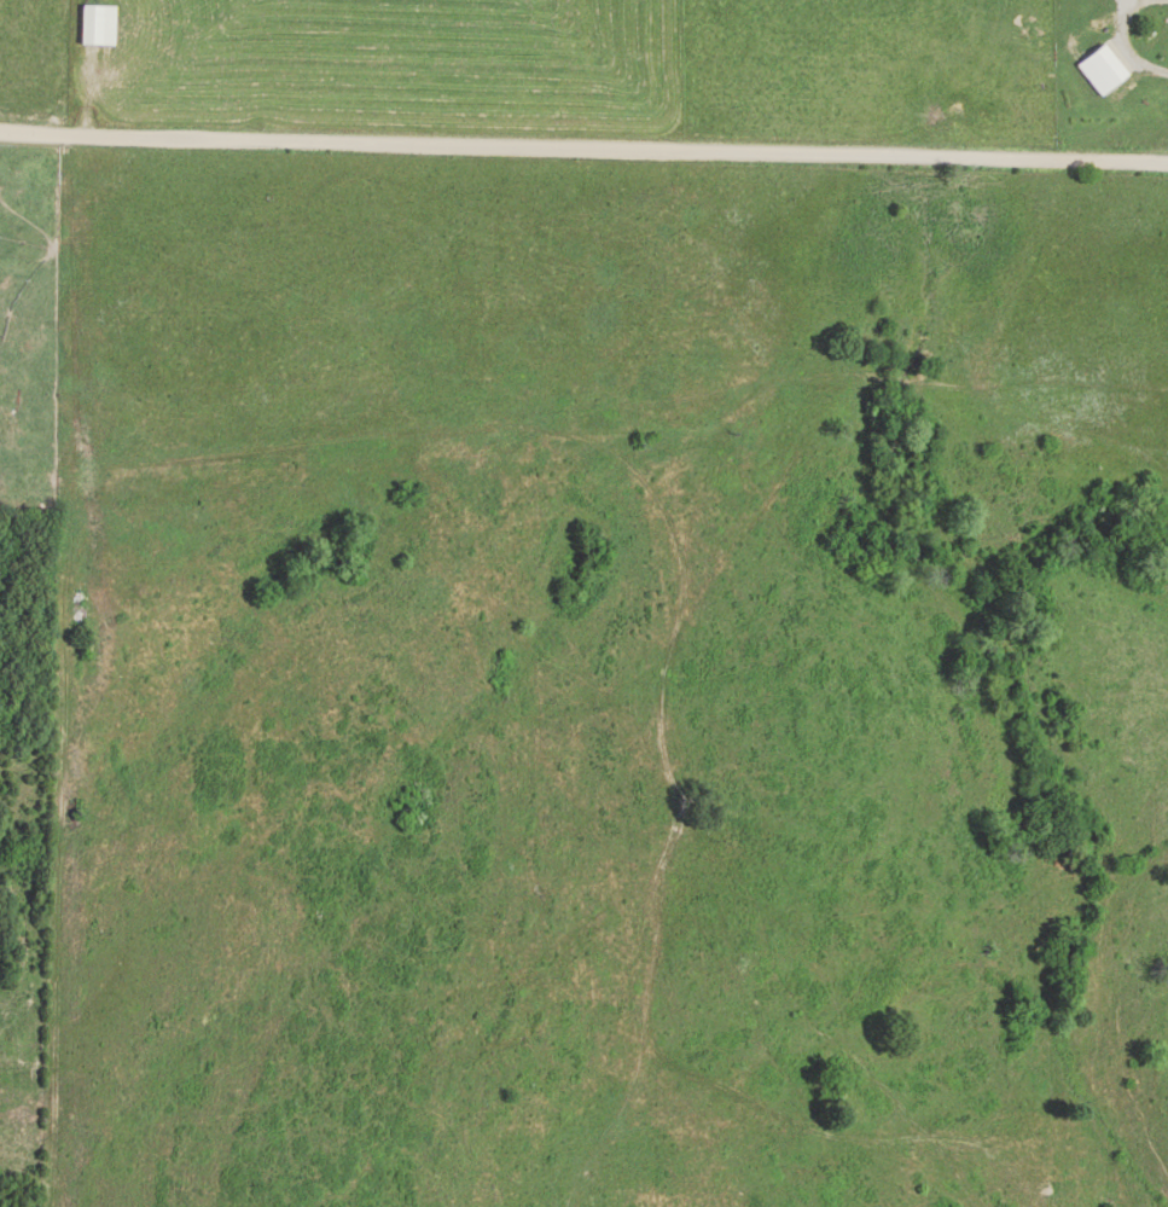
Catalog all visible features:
building: (99, 25)
road: (1120, 35)
building: (1105, 70)
road: (583, 150)

